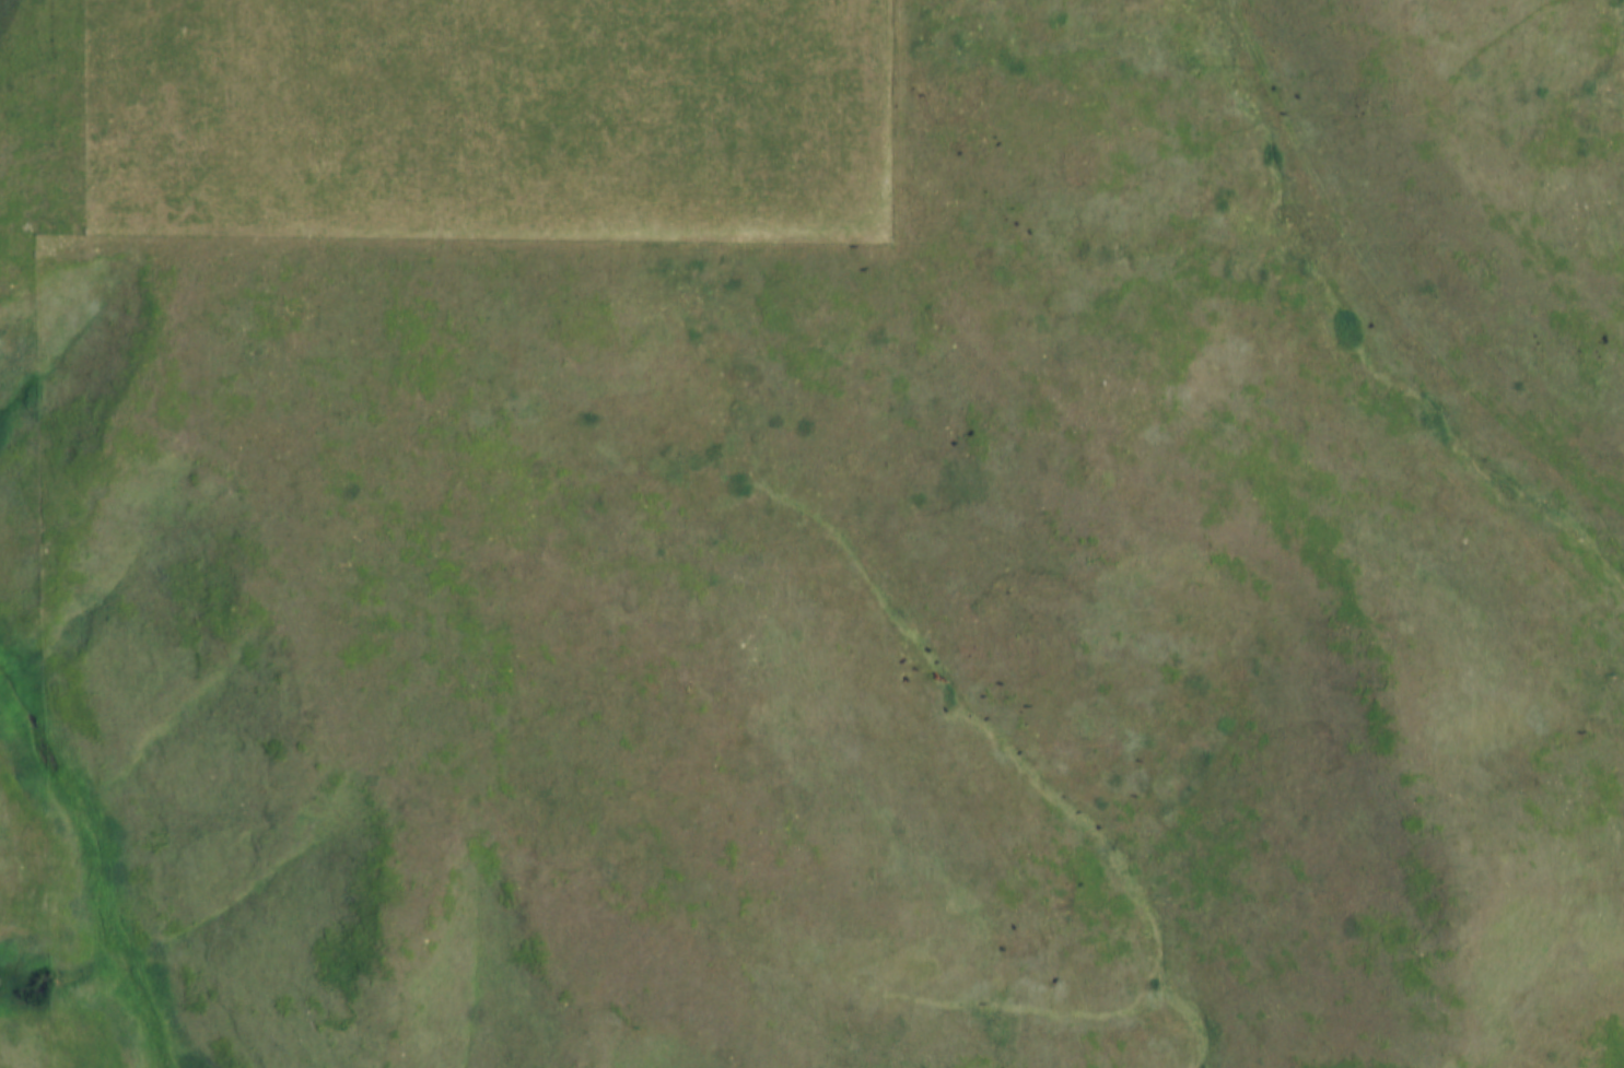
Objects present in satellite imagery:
road: (1347, 304)

